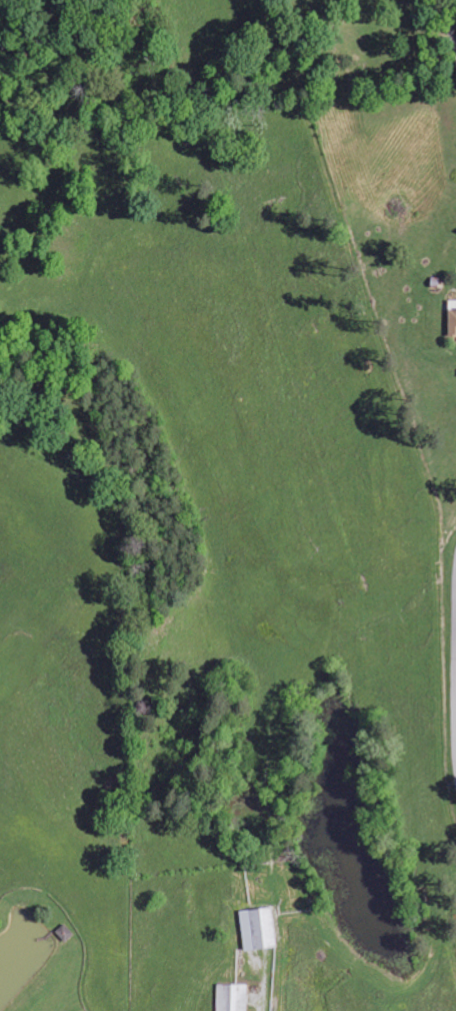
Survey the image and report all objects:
road: (452, 31)
building: (453, 317)
building: (259, 929)
building: (66, 933)
building: (233, 997)

